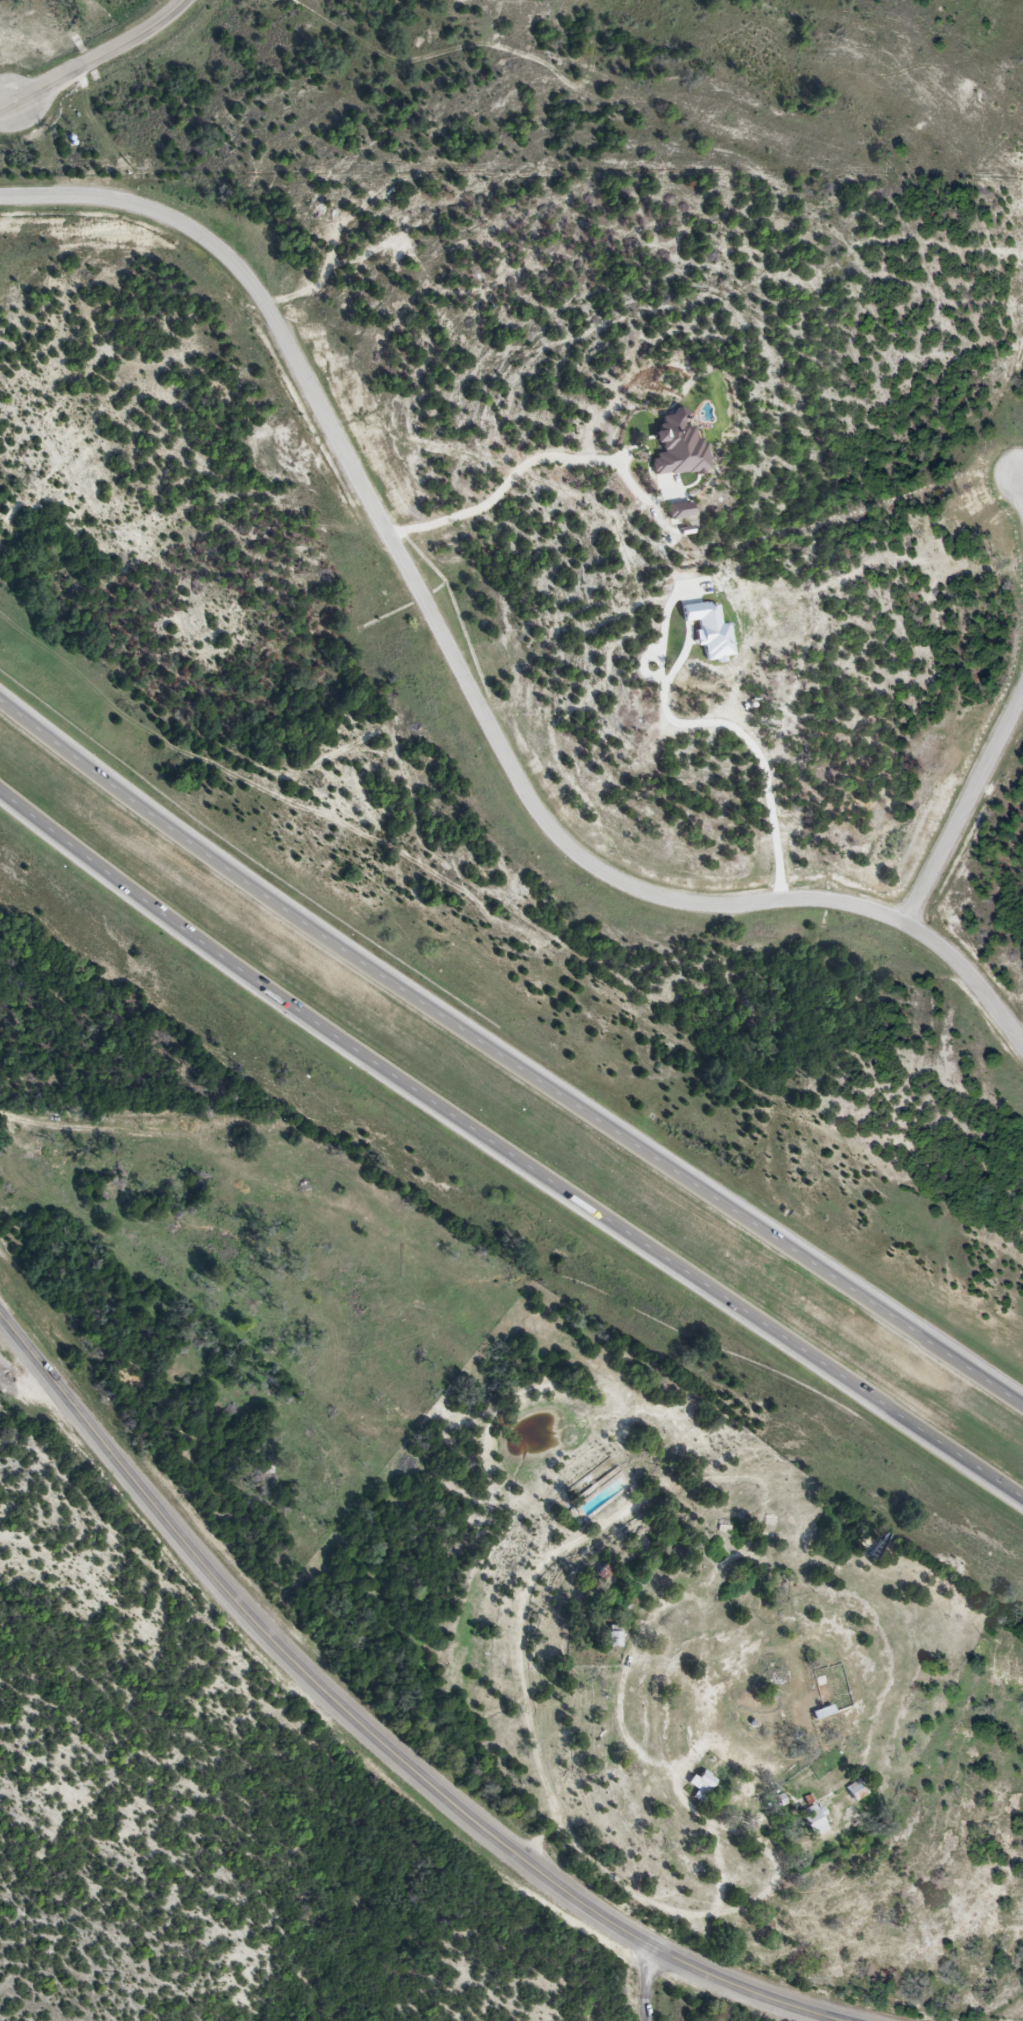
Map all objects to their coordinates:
road: (94, 56)
road: (517, 470)
road: (1022, 482)
road: (462, 677)
road: (730, 733)
road: (963, 806)
road: (506, 1060)
road: (509, 1147)
building: (644, 1540)
building: (615, 1639)
building: (823, 1713)
road: (371, 1733)
building: (702, 1784)
building: (815, 1820)
road: (644, 1982)

